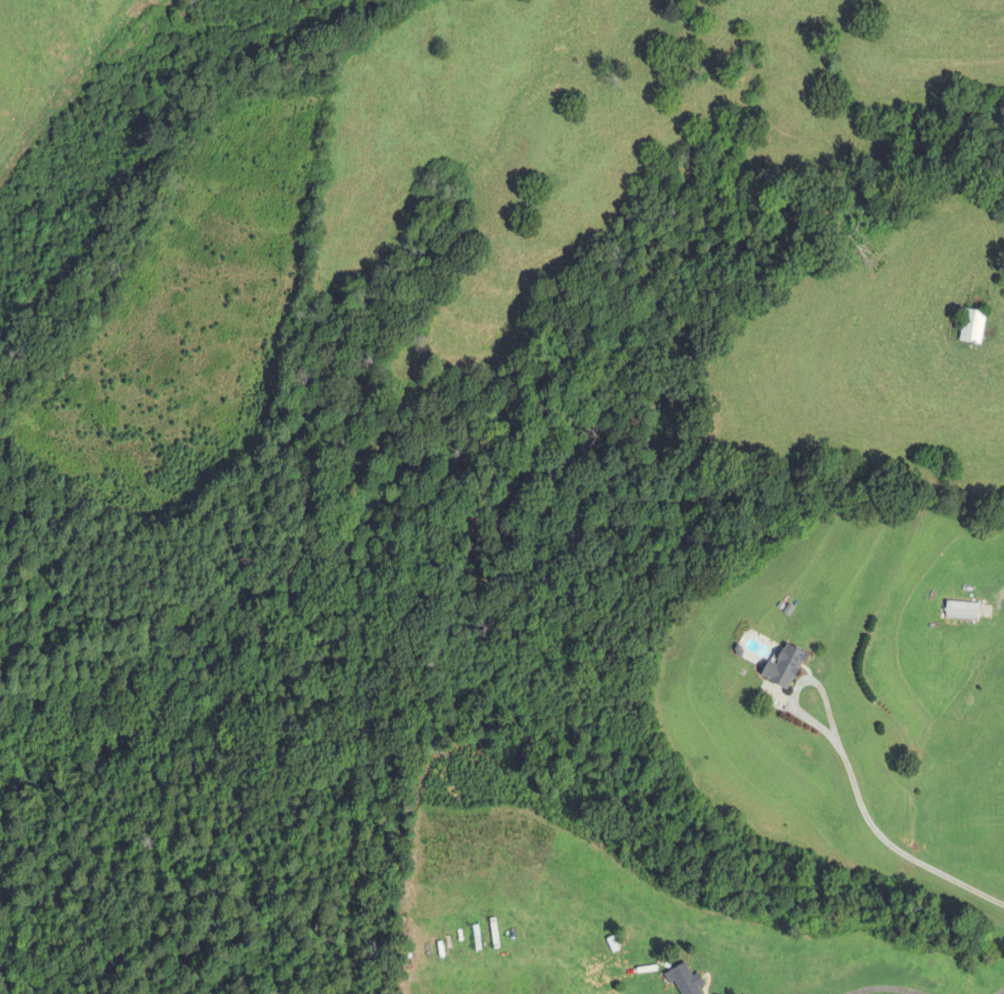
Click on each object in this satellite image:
building: (971, 327)
building: (961, 611)
building: (783, 668)
road: (869, 822)
building: (685, 980)
road: (883, 986)
road: (998, 990)

